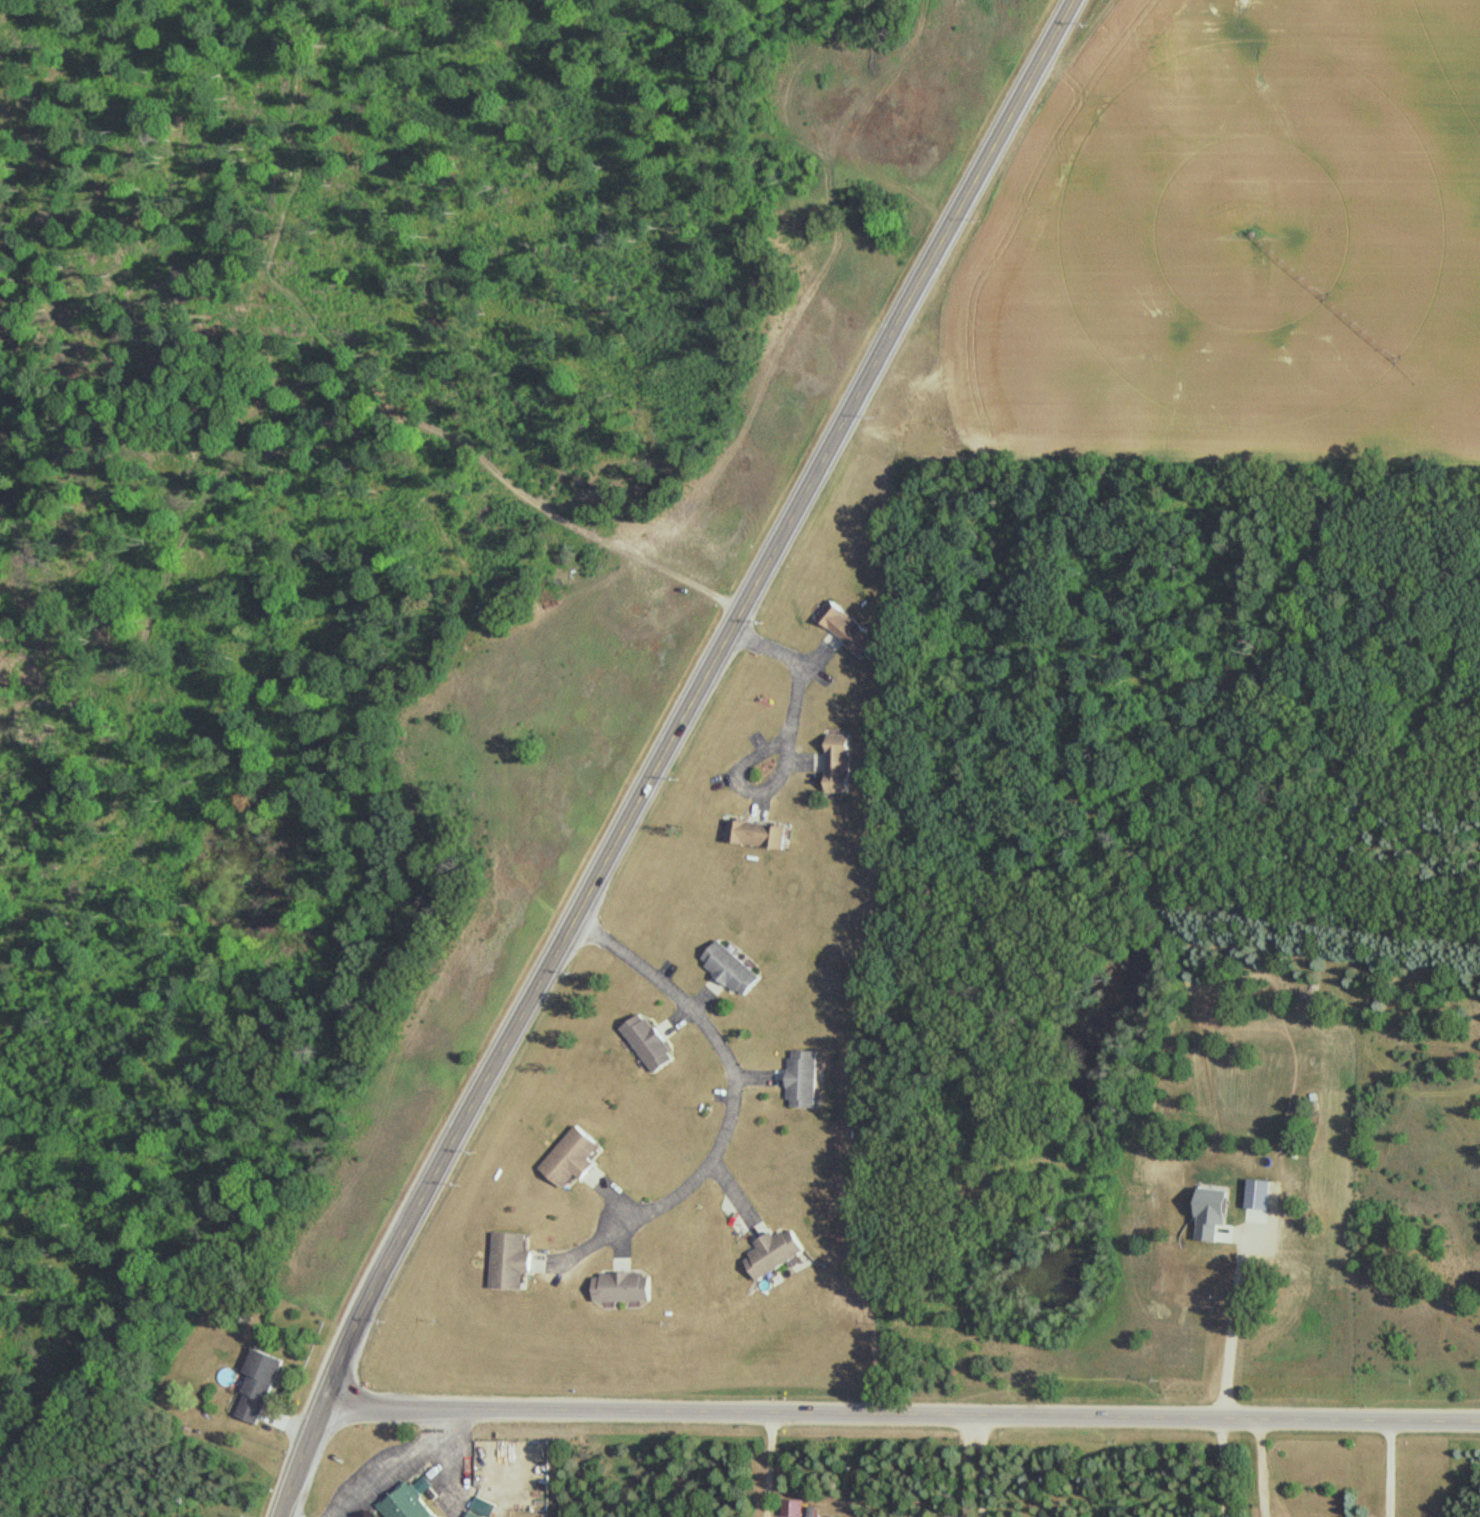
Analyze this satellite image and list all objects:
building: (845, 628)
road: (690, 698)
road: (788, 737)
building: (838, 769)
building: (755, 835)
building: (728, 970)
building: (647, 1043)
road: (728, 1066)
building: (801, 1080)
building: (569, 1158)
building: (774, 1254)
building: (509, 1262)
building: (621, 1288)
road: (1230, 1330)
building: (257, 1388)
road: (901, 1415)
road: (391, 1459)
road: (303, 1461)
road: (769, 1465)
road: (970, 1466)
road: (985, 1466)
road: (1224, 1467)
road: (1262, 1468)
road: (1390, 1469)
building: (405, 1504)
building: (793, 1509)

